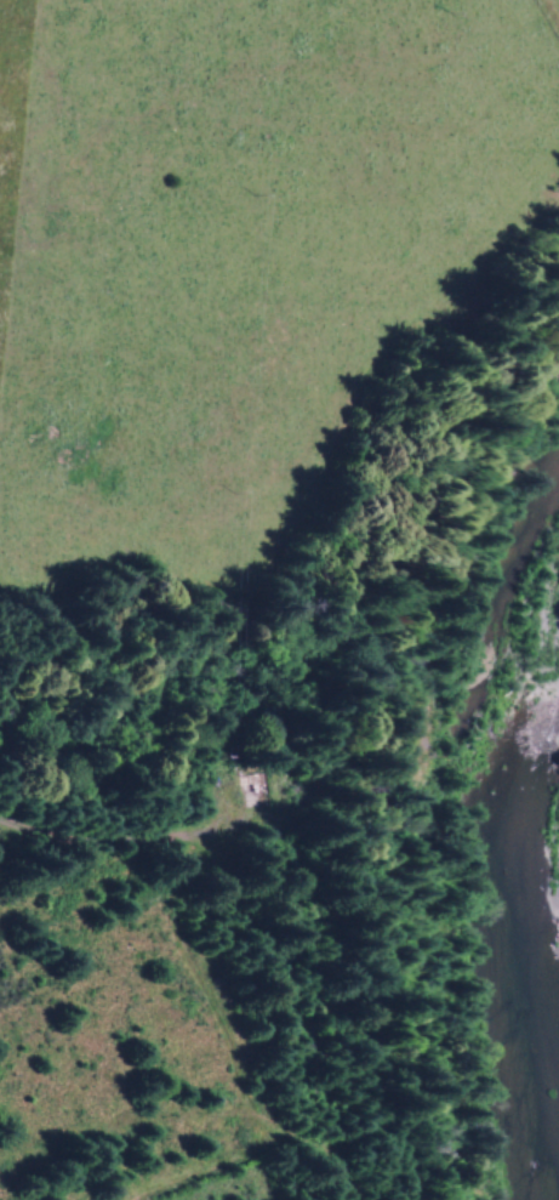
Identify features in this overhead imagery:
river: (496, 794)

